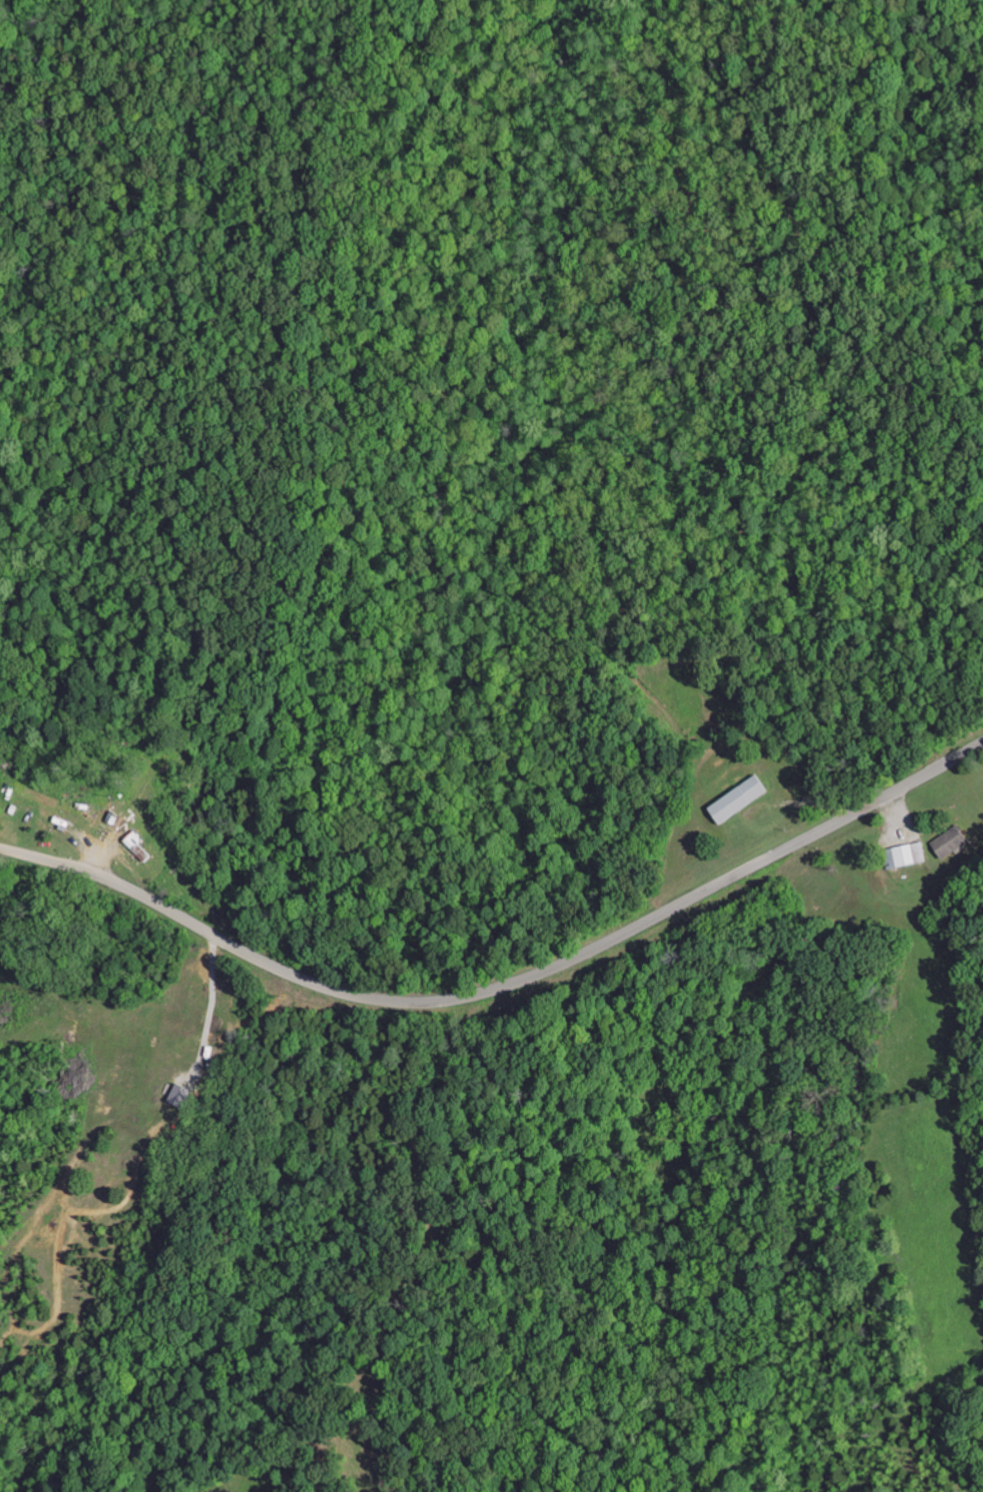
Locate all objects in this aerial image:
building: (735, 800)
building: (948, 842)
building: (903, 855)
road: (504, 983)
road: (34, 995)
building: (177, 1096)

